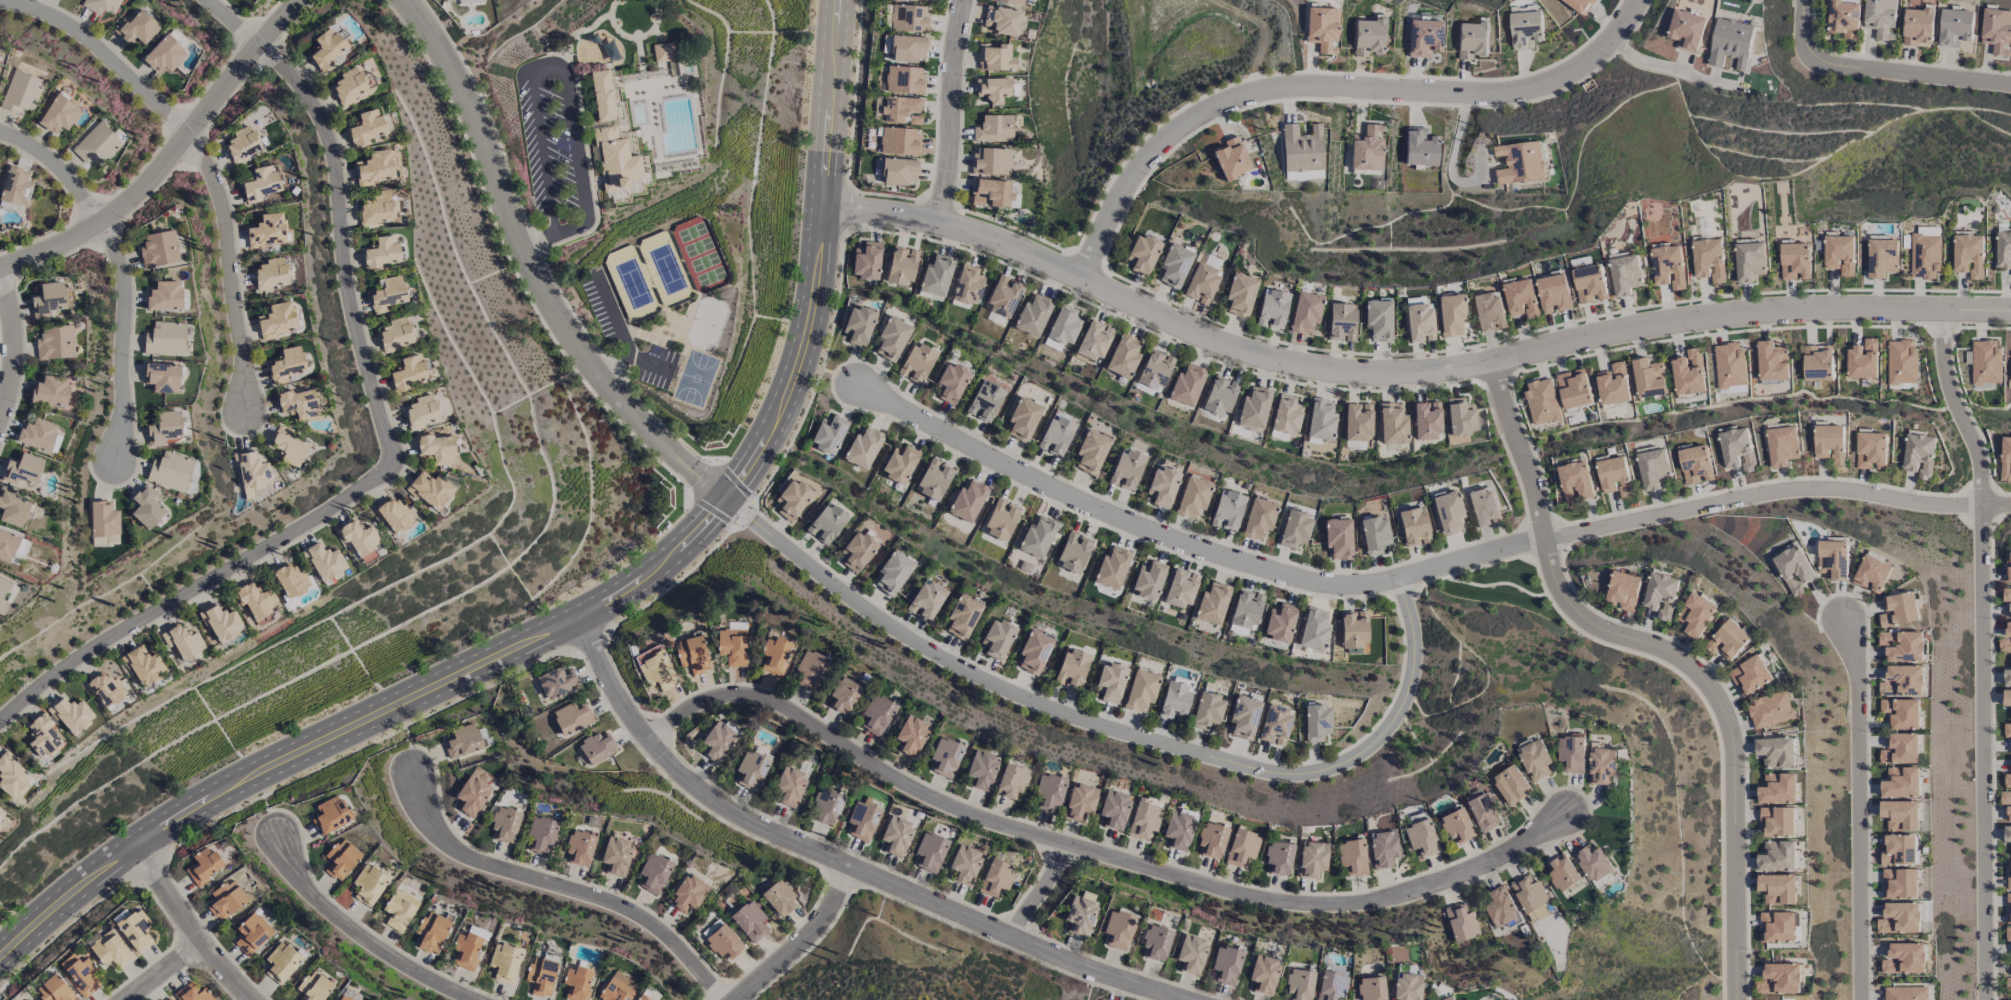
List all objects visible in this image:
building: (917, 0)
building: (1012, 2)
building: (101, 5)
building: (1579, 5)
park: (633, 16)
building: (909, 18)
building: (1843, 18)
building: (1880, 18)
building: (1003, 20)
building: (1919, 21)
building: (1955, 27)
building: (136, 28)
building: (1322, 29)
building: (1525, 29)
building: (1686, 30)
building: (1997, 31)
building: (1368, 37)
building: (1424, 38)
building: (593, 39)
building: (1473, 39)
building: (1730, 43)
building: (908, 48)
building: (327, 49)
building: (610, 50)
building: (663, 52)
building: (164, 55)
building: (996, 58)
road: (1669, 66)
road: (1880, 71)
building: (904, 79)
road: (565, 83)
building: (349, 87)
road: (1331, 87)
building: (993, 89)
building: (22, 93)
building: (602, 94)
building: (901, 110)
road: (947, 110)
building: (59, 115)
building: (367, 127)
building: (994, 129)
building: (899, 141)
building: (97, 144)
building: (243, 145)
building: (1302, 148)
building: (1420, 148)
building: (1367, 149)
road: (166, 156)
building: (615, 159)
building: (1231, 159)
building: (991, 161)
road: (202, 163)
building: (1520, 163)
building: (376, 168)
building: (899, 171)
building: (263, 182)
building: (16, 187)
building: (992, 193)
building: (376, 209)
building: (267, 231)
building: (159, 249)
building: (2003, 250)
building: (382, 252)
building: (1143, 254)
building: (1839, 254)
building: (1968, 254)
park: (700, 255)
building: (1924, 256)
building: (1882, 257)
building: (1709, 260)
building: (1749, 260)
building: (1795, 260)
building: (867, 261)
building: (1212, 262)
building: (1175, 266)
building: (902, 267)
building: (1668, 267)
road: (119, 269)
park: (666, 269)
road: (531, 271)
building: (271, 273)
building: (1625, 275)
building: (936, 276)
park: (632, 283)
building: (1202, 284)
building: (1589, 284)
building: (968, 285)
building: (388, 294)
building: (1553, 294)
building: (1241, 295)
building: (165, 296)
building: (1004, 297)
building: (1520, 298)
building: (48, 299)
building: (1273, 309)
building: (1488, 311)
building: (1305, 312)
building: (1451, 314)
building: (1033, 315)
building: (1378, 319)
building: (277, 320)
building: (1342, 322)
building: (1419, 322)
park: (707, 323)
building: (859, 325)
building: (1063, 327)
road: (619, 330)
building: (396, 334)
building: (892, 338)
building: (166, 339)
road: (15, 341)
building: (1095, 341)
building: (55, 344)
building: (1124, 356)
building: (1862, 360)
building: (1772, 361)
building: (1901, 361)
building: (1984, 361)
building: (917, 363)
building: (1817, 363)
road: (648, 364)
building: (287, 365)
building: (1729, 365)
building: (1155, 370)
building: (409, 372)
road: (1405, 373)
building: (1689, 373)
building: (2009, 373)
building: (162, 377)
park: (695, 378)
building: (1649, 378)
building: (951, 383)
building: (1613, 384)
building: (1187, 385)
building: (1574, 389)
building: (50, 391)
building: (1220, 395)
building: (985, 401)
building: (1542, 401)
building: (297, 404)
building: (1254, 408)
building: (422, 411)
building: (1287, 415)
building: (1023, 420)
building: (1321, 420)
building: (1426, 421)
building: (1358, 422)
building: (1393, 424)
building: (165, 427)
building: (38, 434)
building: (829, 434)
building: (1056, 436)
road: (389, 443)
building: (1829, 443)
building: (1783, 446)
building: (289, 447)
building: (437, 448)
building: (863, 448)
building: (1738, 449)
road: (1520, 451)
building: (1871, 451)
building: (1092, 452)
building: (1919, 455)
building: (2006, 459)
building: (900, 464)
building: (1696, 464)
building: (22, 469)
building: (1654, 469)
building: (252, 470)
building: (1126, 470)
building: (171, 471)
building: (1616, 476)
building: (934, 480)
building: (1576, 482)
building: (1163, 487)
building: (431, 490)
road: (1775, 492)
traffic signals: (728, 498)
building: (1193, 498)
building: (792, 500)
building: (967, 501)
building: (13, 507)
building: (146, 507)
road: (739, 507)
building: (1483, 507)
building: (1228, 510)
building: (1448, 513)
building: (394, 514)
road: (1120, 516)
building: (1259, 518)
building: (104, 519)
building: (1001, 520)
building: (827, 523)
building: (1413, 527)
building: (1295, 530)
building: (1375, 535)
building: (1037, 537)
building: (359, 538)
building: (1338, 538)
building: (7, 546)
building: (858, 551)
building: (1073, 553)
building: (1833, 559)
road: (1470, 560)
building: (325, 561)
building: (1112, 568)
building: (2008, 568)
building: (1793, 569)
building: (893, 572)
building: (1872, 574)
building: (1149, 580)
building: (1181, 589)
building: (1625, 590)
building: (6, 594)
building: (2006, 594)
building: (1662, 595)
building: (926, 600)
building: (257, 603)
building: (1213, 603)
building: (1246, 609)
building: (1899, 609)
road: (595, 610)
building: (2010, 611)
building: (963, 615)
building: (1698, 615)
building: (224, 623)
building: (1280, 623)
building: (1314, 629)
building: (2008, 629)
building: (1353, 631)
building: (997, 639)
building: (1729, 640)
building: (184, 642)
building: (1902, 645)
building: (2004, 645)
building: (732, 647)
road: (1983, 651)
building: (1034, 652)
building: (692, 654)
building: (776, 655)
building: (144, 666)
building: (1072, 668)
building: (810, 669)
building: (657, 670)
building: (1751, 675)
building: (2007, 677)
building: (1902, 681)
building: (1110, 682)
building: (556, 683)
building: (106, 689)
building: (1140, 691)
building: (844, 695)
building: (2007, 699)
building: (1771, 710)
building: (1207, 712)
building: (1901, 713)
building: (877, 714)
building: (72, 715)
building: (1243, 717)
building: (572, 718)
building: (1316, 723)
road: (1728, 723)
building: (1275, 725)
building: (2007, 731)
road: (1126, 734)
building: (911, 735)
building: (42, 736)
building: (717, 741)
building: (462, 742)
building: (596, 748)
building: (1901, 749)
building: (1777, 752)
building: (1573, 753)
building: (946, 757)
building: (1535, 760)
building: (1603, 764)
building: (982, 769)
building: (751, 770)
building: (12, 776)
road: (681, 778)
building: (1011, 781)
building: (2007, 781)
building: (1901, 782)
building: (1512, 784)
building: (790, 786)
building: (1778, 789)
building: (1049, 792)
building: (471, 797)
building: (2005, 797)
building: (1080, 801)
building: (826, 807)
road: (1858, 809)
building: (1114, 810)
building: (0, 811)
building: (1483, 812)
building: (2009, 813)
building: (331, 815)
building: (1900, 815)
building: (864, 820)
building: (1144, 820)
building: (1778, 821)
building: (505, 825)
building: (1456, 826)
building: (1178, 830)
building: (2007, 834)
building: (896, 835)
building: (541, 836)
building: (1421, 838)
building: (1212, 840)
building: (580, 848)
building: (1241, 848)
building: (1383, 849)
building: (1898, 850)
building: (931, 852)
road: (1095, 854)
building: (1778, 856)
building: (617, 857)
building: (1278, 857)
building: (1351, 857)
building: (341, 859)
building: (1311, 860)
building: (1594, 864)
building: (966, 865)
building: (204, 866)
building: (654, 873)
building: (1563, 873)
building: (2008, 875)
building: (996, 878)
building: (370, 884)
building: (1900, 884)
road: (562, 888)
building: (1778, 889)
road: (1038, 892)
building: (688, 893)
building: (1530, 897)
building: (780, 898)
building: (227, 900)
building: (2008, 907)
building: (1502, 908)
building: (399, 910)
building: (1080, 916)
building: (1900, 918)
building: (750, 921)
road: (974, 922)
building: (1461, 923)
road: (188, 925)
building: (1778, 927)
building: (135, 929)
building: (1118, 930)
building: (432, 931)
building: (252, 933)
building: (2008, 934)
road: (358, 939)
road: (803, 941)
building: (724, 942)
building: (1156, 942)
building: (110, 950)
building: (466, 950)
building: (1191, 954)
building: (1905, 958)
building: (505, 960)
building: (282, 961)
building: (1226, 965)
road: (162, 971)
building: (80, 974)
building: (1264, 974)
building: (541, 976)
building: (1784, 977)
building: (577, 983)
building: (2008, 983)
building: (1300, 984)
building: (1331, 986)
building: (314, 987)
road: (1141, 987)
building: (1406, 987)
building: (1764, 987)
building: (618, 988)
building: (1371, 989)
building: (55, 990)
building: (193, 993)
building: (1904, 993)
building: (343, 998)
building: (641, 998)
building: (1447, 998)
building: (27, 999)

